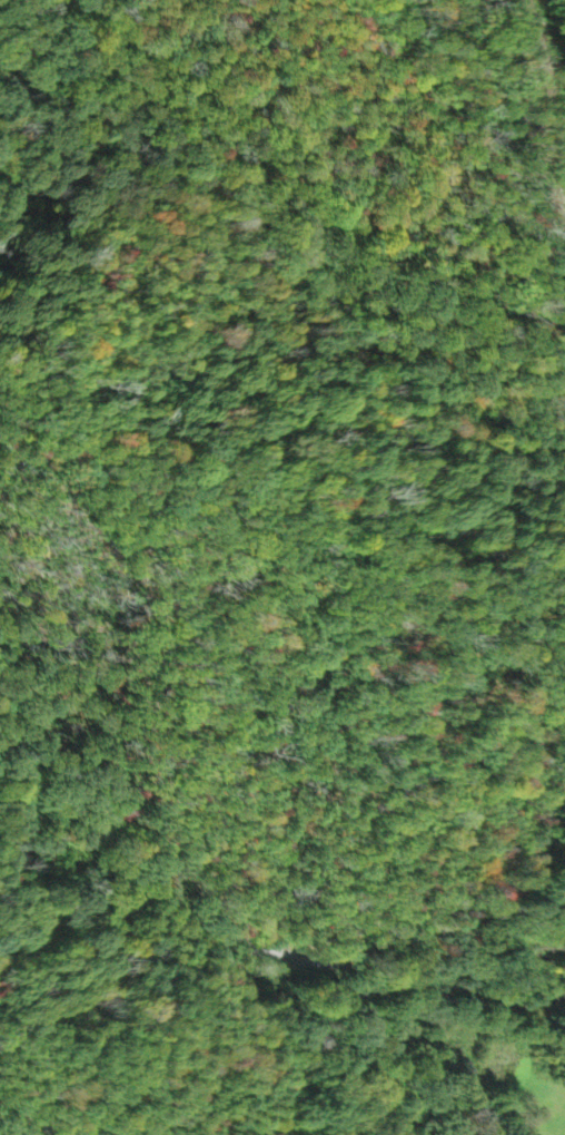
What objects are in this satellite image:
road: (333, 907)

